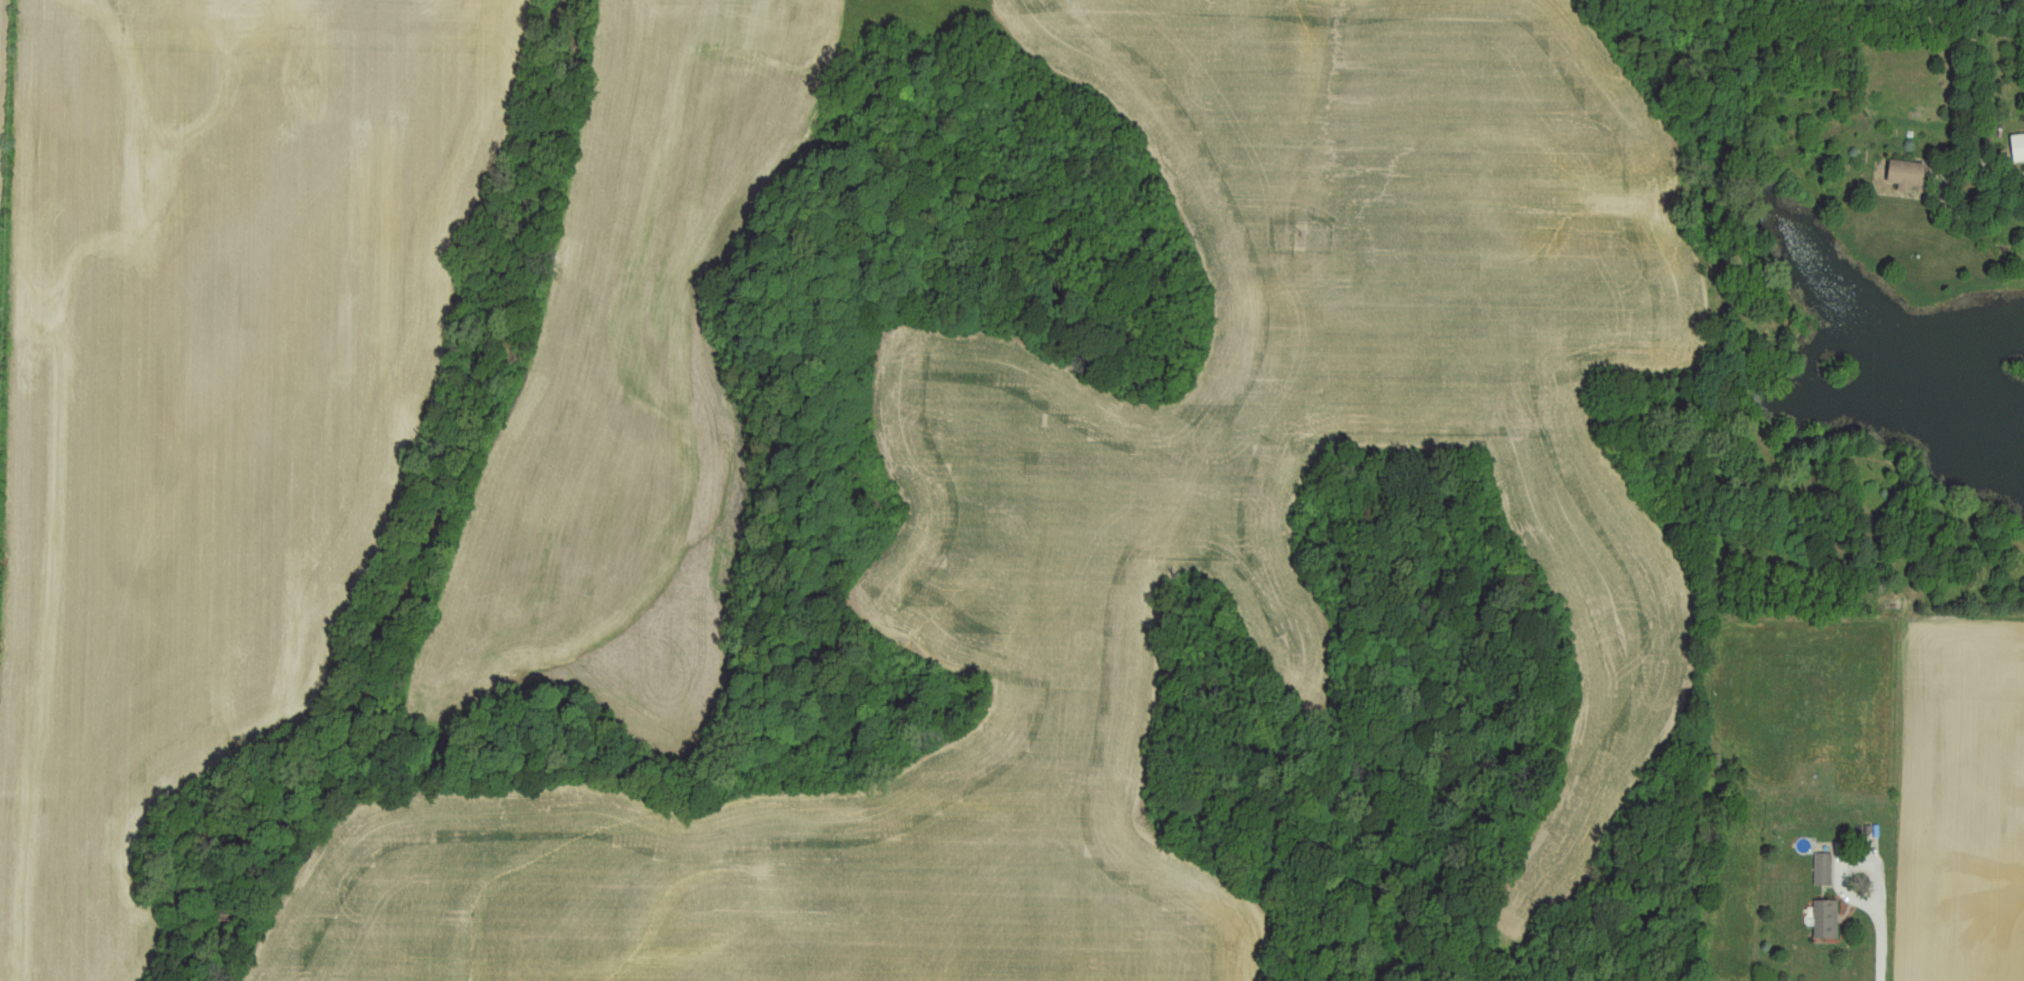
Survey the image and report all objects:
road: (1972, 98)
building: (1908, 174)
building: (1827, 868)
building: (1829, 917)
road: (1924, 922)

